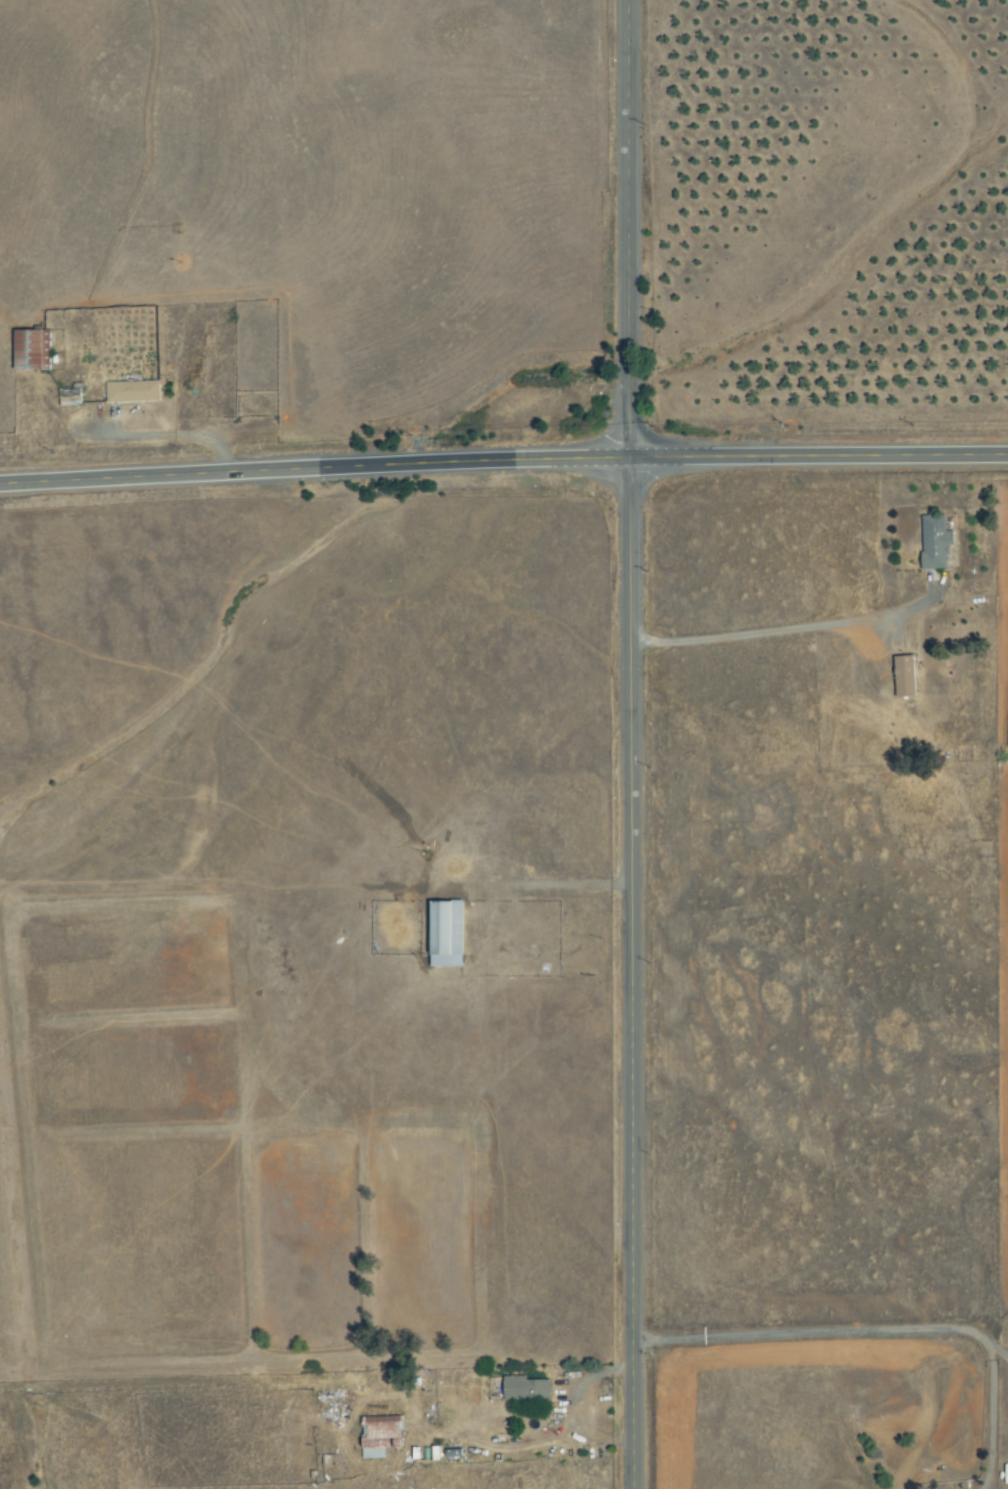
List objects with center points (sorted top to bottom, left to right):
road: (628, 229)
building: (34, 350)
building: (135, 392)
building: (71, 397)
road: (503, 461)
building: (937, 542)
road: (782, 626)
building: (906, 677)
building: (449, 935)
road: (631, 973)
road: (813, 1332)
road: (998, 1351)
building: (528, 1390)
road: (991, 1418)
building: (383, 1436)

